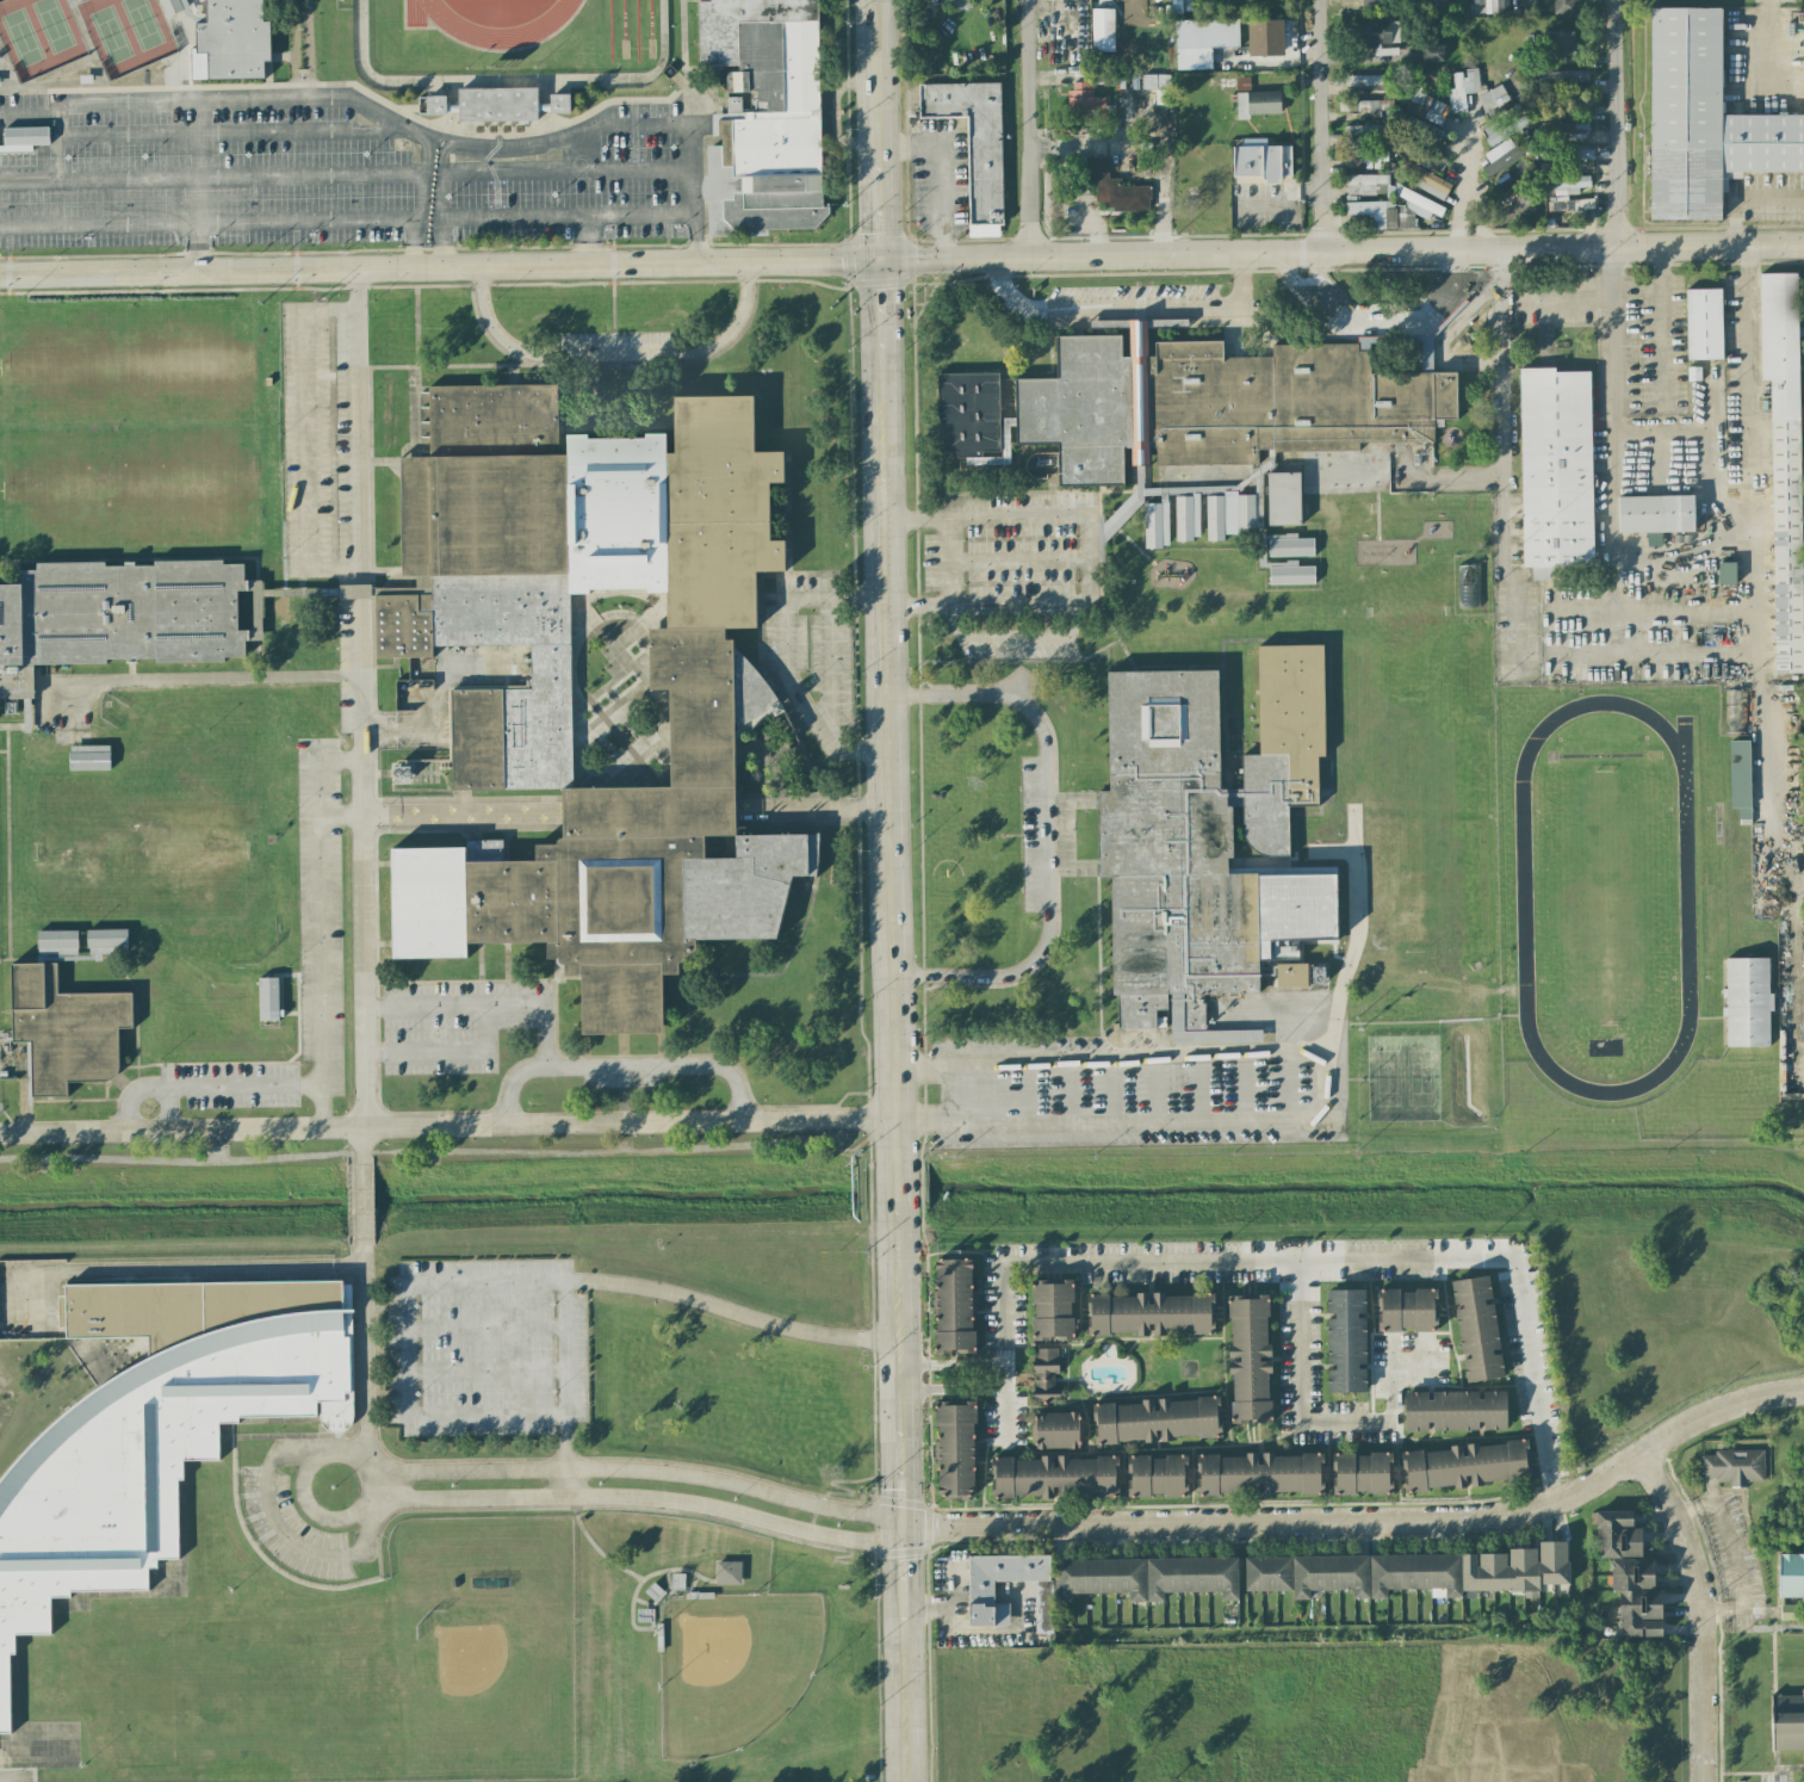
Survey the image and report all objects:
building: (1370, 2)
building: (1434, 5)
building: (173, 6)
building: (1488, 6)
building: (1563, 6)
park: (141, 23)
park: (52, 24)
track: (454, 24)
building: (1072, 30)
building: (1102, 30)
building: (1378, 32)
park: (110, 33)
park: (21, 36)
building: (230, 41)
building: (1202, 41)
building: (1263, 41)
road: (1767, 42)
building: (1561, 43)
stadium: (507, 50)
building: (1432, 52)
building: (1560, 78)
building: (1365, 80)
building: (1242, 83)
building: (1157, 87)
building: (1462, 88)
building: (1493, 98)
building: (1084, 101)
building: (497, 103)
building: (1257, 103)
building: (1422, 104)
building: (1368, 107)
building: (764, 113)
building: (1704, 122)
road: (1612, 125)
road: (1323, 126)
road: (1034, 128)
building: (1504, 129)
building: (1366, 130)
building: (1563, 131)
building: (1422, 132)
road: (231, 134)
building: (23, 138)
road: (440, 142)
road: (1149, 143)
building: (973, 144)
building: (1505, 154)
building: (1567, 154)
building: (1422, 155)
building: (1364, 156)
building: (1260, 160)
building: (1075, 163)
road: (941, 169)
road: (566, 171)
road: (211, 180)
building: (1426, 180)
building: (1568, 185)
road: (199, 186)
building: (1115, 190)
road: (1283, 200)
road: (419, 203)
building: (1388, 203)
building: (1583, 203)
building: (1519, 205)
road: (440, 206)
road: (347, 219)
road: (590, 241)
road: (901, 260)
traffic signals: (882, 261)
road: (1662, 273)
road: (1447, 295)
road: (1600, 298)
road: (1132, 302)
road: (1467, 310)
building: (1703, 324)
road: (613, 354)
road: (415, 355)
building: (1223, 401)
building: (968, 414)
road: (306, 439)
road: (1612, 452)
building: (1784, 462)
building: (1555, 470)
building: (1283, 499)
building: (1655, 515)
building: (1233, 518)
road: (1093, 543)
building: (1289, 545)
road: (1022, 561)
building: (1288, 573)
building: (1725, 573)
road: (1506, 607)
road: (1561, 608)
building: (117, 615)
road: (1015, 637)
road: (782, 654)
road: (829, 664)
road: (1766, 666)
road: (162, 677)
road: (365, 699)
building: (1735, 701)
building: (1737, 728)
road: (417, 731)
building: (512, 737)
building: (88, 757)
building: (399, 772)
building: (1740, 776)
road: (434, 815)
building: (1197, 823)
road: (1047, 837)
road: (892, 890)
track: (1686, 897)
park: (1606, 898)
road: (321, 923)
building: (1253, 933)
building: (105, 942)
building: (57, 943)
building: (1291, 974)
building: (1316, 974)
building: (267, 998)
building: (1747, 1002)
road: (489, 1007)
building: (64, 1029)
road: (450, 1057)
road: (625, 1065)
road: (191, 1082)
road: (24, 1095)
road: (168, 1107)
road: (900, 1121)
road: (362, 1147)
road: (361, 1204)
flagpole: (925, 1256)
road: (1327, 1257)
flagpole: (926, 1260)
flagpole: (926, 1264)
flagpole: (926, 1269)
flagpole: (926, 1273)
flagpole: (926, 1281)
road: (445, 1282)
flagpole: (926, 1289)
flagpole: (926, 1299)
building: (953, 1306)
flagpole: (926, 1308)
building: (1052, 1310)
building: (1407, 1310)
building: (1151, 1314)
flagpole: (926, 1319)
road: (488, 1326)
building: (1476, 1329)
flagpole: (926, 1331)
building: (1346, 1341)
flagpole: (926, 1342)
parking lot: (491, 1345)
flagpole: (928, 1351)
building: (1250, 1360)
road: (954, 1362)
road: (489, 1370)
road: (365, 1372)
flagpole: (928, 1373)
building: (1046, 1375)
flagpole: (928, 1380)
road: (956, 1390)
road: (1006, 1404)
flagpole: (928, 1409)
building: (1455, 1410)
flagpole: (928, 1419)
building: (1155, 1421)
road: (1302, 1422)
flagpole: (929, 1427)
building: (154, 1430)
building: (1055, 1430)
flagpole: (929, 1436)
flagpole: (929, 1447)
building: (955, 1449)
road: (563, 1454)
flagpole: (929, 1456)
flagpole: (930, 1464)
building: (1467, 1465)
building: (1734, 1466)
flagpole: (930, 1472)
building: (1260, 1473)
building: (1362, 1473)
building: (1157, 1475)
building: (1054, 1477)
flagpole: (930, 1480)
flagpole: (930, 1489)
flagpole: (931, 1498)
road: (1369, 1521)
road: (900, 1529)
traffic signals: (905, 1532)
road: (1744, 1557)
building: (727, 1572)
building: (1413, 1572)
building: (1629, 1574)
building: (1791, 1574)
building: (1145, 1577)
building: (980, 1592)
road: (1700, 1610)
building: (1787, 1722)

